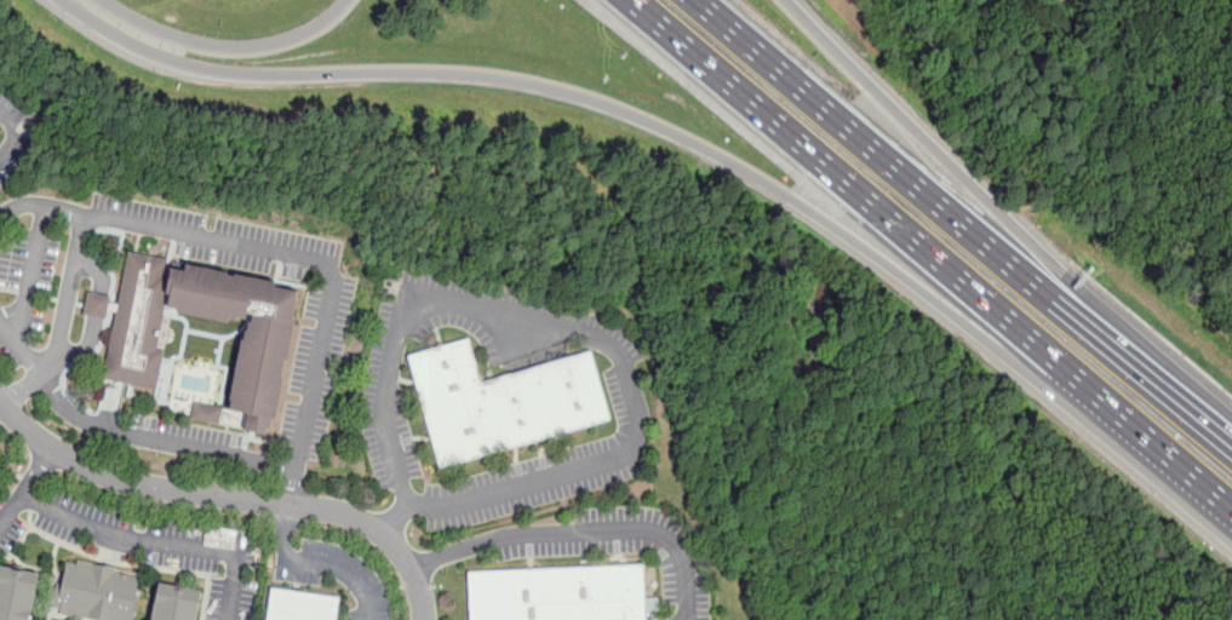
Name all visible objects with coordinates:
road: (24, 131)
road: (672, 133)
parking lot: (17, 136)
road: (952, 216)
road: (993, 217)
parking lot: (0, 232)
road: (910, 245)
road: (76, 252)
road: (309, 257)
road: (31, 272)
parking lot: (25, 291)
road: (96, 314)
parking lot: (331, 327)
building: (136, 335)
road: (588, 335)
road: (21, 350)
road: (23, 389)
parking lot: (389, 400)
building: (504, 401)
parking lot: (631, 411)
parking lot: (189, 440)
road: (1220, 442)
road: (267, 460)
road: (24, 486)
road: (229, 496)
road: (1216, 501)
road: (581, 529)
road: (157, 541)
parking lot: (142, 542)
parking lot: (625, 549)
parking lot: (337, 575)
building: (98, 591)
building: (16, 592)
building: (560, 592)
building: (176, 602)
building: (302, 605)

